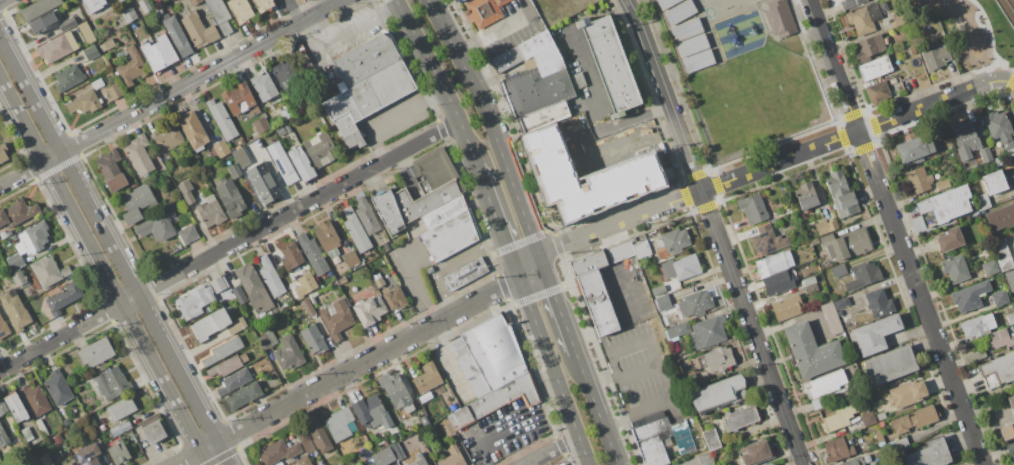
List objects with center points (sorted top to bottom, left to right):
building: (115, 0)
building: (120, 0)
building: (305, 1)
park: (703, 1)
park: (751, 1)
building: (195, 2)
building: (665, 3)
building: (851, 3)
building: (93, 4)
park: (729, 4)
building: (111, 5)
building: (263, 5)
railway: (1010, 5)
building: (145, 6)
building: (39, 8)
building: (241, 10)
road: (294, 10)
building: (485, 11)
park: (1006, 11)
road: (1006, 11)
building: (679, 12)
park: (709, 12)
railway: (1005, 13)
building: (129, 14)
building: (220, 15)
building: (779, 18)
building: (863, 19)
building: (45, 21)
building: (898, 21)
road: (976, 21)
building: (67, 24)
building: (686, 29)
building: (197, 30)
road: (349, 30)
road: (488, 30)
parking lot: (348, 31)
building: (86, 32)
park: (971, 33)
building: (176, 34)
road: (990, 37)
building: (108, 45)
building: (692, 45)
building: (57, 48)
building: (868, 48)
building: (912, 50)
building: (91, 52)
building: (159, 53)
building: (935, 56)
building: (365, 60)
building: (698, 60)
building: (609, 63)
building: (131, 67)
building: (875, 68)
building: (285, 75)
building: (534, 76)
building: (69, 77)
road: (439, 81)
building: (97, 84)
road: (1012, 84)
building: (580, 85)
building: (263, 86)
building: (381, 88)
building: (883, 89)
building: (115, 92)
road: (170, 92)
building: (238, 98)
building: (84, 103)
building: (341, 106)
road: (593, 110)
building: (286, 114)
building: (543, 117)
building: (222, 119)
road: (392, 119)
building: (262, 125)
road: (491, 125)
building: (287, 128)
building: (193, 130)
building: (348, 130)
building: (281, 131)
building: (1000, 131)
building: (167, 139)
building: (965, 139)
building: (220, 148)
building: (320, 149)
building: (914, 150)
building: (3, 152)
building: (985, 154)
building: (139, 155)
building: (240, 157)
building: (998, 159)
building: (282, 162)
building: (301, 164)
building: (435, 167)
building: (634, 167)
road: (760, 169)
building: (111, 170)
building: (235, 170)
building: (918, 180)
building: (263, 182)
building: (994, 182)
building: (942, 185)
building: (186, 191)
building: (842, 195)
building: (807, 196)
building: (436, 197)
building: (231, 198)
building: (983, 200)
building: (137, 203)
building: (943, 206)
road: (297, 208)
building: (752, 208)
building: (394, 209)
building: (211, 211)
building: (444, 211)
building: (17, 212)
building: (366, 216)
building: (1000, 217)
road: (498, 220)
building: (826, 225)
building: (156, 227)
building: (356, 231)
road: (715, 231)
road: (895, 232)
building: (187, 234)
building: (450, 236)
building: (327, 238)
building: (32, 239)
building: (949, 239)
building: (768, 241)
building: (1013, 242)
building: (672, 243)
building: (846, 244)
building: (346, 245)
building: (642, 249)
building: (620, 252)
road: (113, 253)
building: (1002, 253)
building: (312, 254)
building: (291, 257)
building: (351, 258)
building: (15, 261)
road: (447, 262)
building: (589, 262)
building: (774, 263)
building: (824, 263)
building: (681, 267)
building: (954, 267)
building: (991, 267)
building: (838, 270)
building: (49, 271)
road: (104, 271)
building: (465, 274)
building: (863, 275)
building: (18, 277)
building: (311, 279)
building: (330, 279)
building: (1010, 279)
building: (272, 280)
building: (342, 280)
building: (808, 281)
building: (379, 282)
building: (778, 283)
building: (219, 284)
building: (671, 286)
building: (254, 288)
building: (811, 288)
building: (295, 289)
building: (659, 289)
road: (416, 290)
building: (239, 294)
building: (970, 296)
building: (64, 297)
building: (395, 298)
building: (1000, 298)
road: (128, 299)
building: (194, 302)
building: (663, 302)
building: (598, 303)
building: (695, 303)
building: (842, 303)
building: (879, 303)
road: (559, 305)
building: (308, 307)
building: (786, 308)
building: (15, 310)
building: (369, 310)
building: (839, 313)
building: (337, 318)
building: (831, 318)
building: (1010, 318)
building: (210, 324)
road: (606, 324)
building: (237, 325)
building: (978, 325)
building: (3, 329)
building: (677, 331)
building: (708, 332)
road: (583, 333)
building: (876, 334)
road: (60, 335)
building: (268, 339)
building: (313, 339)
building: (1000, 339)
building: (223, 350)
building: (812, 350)
building: (96, 352)
building: (288, 353)
building: (979, 355)
road: (656, 357)
building: (719, 358)
road: (367, 359)
building: (495, 365)
building: (891, 365)
building: (227, 366)
road: (554, 369)
road: (638, 370)
parking lot: (639, 371)
building: (998, 371)
building: (691, 377)
building: (427, 378)
road: (603, 379)
building: (234, 381)
building: (112, 383)
building: (827, 383)
building: (58, 387)
building: (442, 388)
building: (396, 391)
building: (719, 393)
building: (243, 395)
building: (904, 395)
building: (427, 396)
building: (35, 399)
building: (1011, 402)
building: (818, 403)
building: (3, 407)
building: (16, 407)
building: (121, 409)
road: (598, 409)
building: (371, 412)
building: (880, 416)
building: (650, 417)
building: (840, 417)
building: (740, 418)
building: (867, 418)
road: (616, 419)
building: (424, 420)
building: (915, 420)
building: (340, 421)
building: (881, 424)
building: (126, 426)
building: (41, 427)
building: (153, 429)
building: (447, 429)
building: (115, 430)
building: (1007, 431)
building: (318, 435)
building: (400, 435)
building: (3, 436)
building: (28, 436)
building: (57, 439)
building: (712, 439)
building: (879, 439)
building: (305, 440)
building: (664, 441)
building: (383, 444)
building: (898, 445)
road: (207, 446)
road: (479, 450)
road: (552, 450)
building: (836, 450)
building: (1010, 450)
building: (397, 451)
building: (119, 452)
building: (277, 452)
building: (756, 452)
building: (929, 454)
building: (89, 455)
building: (449, 455)
building: (383, 456)
road: (185, 457)
building: (46, 459)
building: (705, 459)
building: (418, 460)
building: (303, 461)
building: (858, 461)
building: (69, 464)
building: (372, 464)
building: (561, 464)
building: (772, 464)

